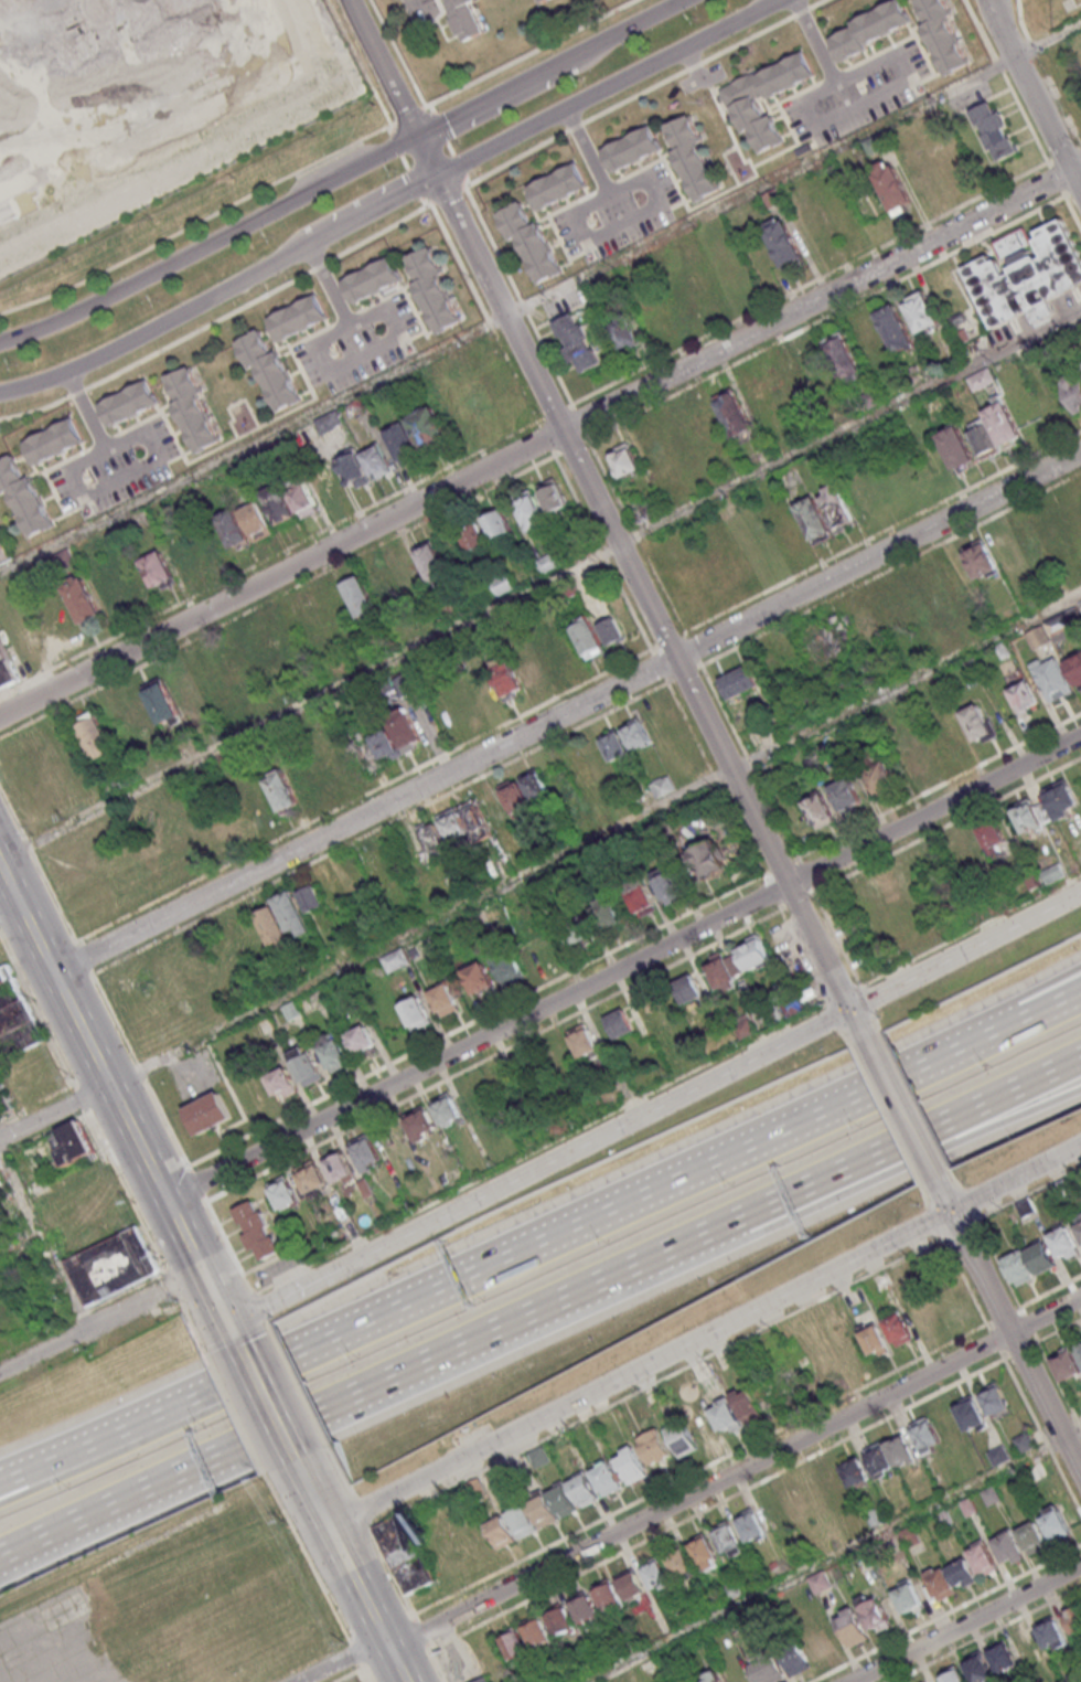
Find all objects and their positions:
building: (542, 0)
road: (416, 8)
building: (467, 18)
building: (870, 28)
building: (943, 34)
road: (816, 41)
road: (385, 67)
road: (552, 70)
building: (131, 79)
road: (1036, 91)
building: (764, 97)
road: (876, 97)
building: (995, 130)
building: (632, 148)
building: (693, 157)
road: (322, 163)
building: (558, 185)
building: (892, 187)
road: (395, 203)
road: (586, 237)
building: (531, 241)
building: (783, 241)
road: (211, 242)
building: (1027, 274)
building: (372, 279)
building: (432, 289)
road: (540, 297)
building: (921, 311)
building: (298, 317)
building: (896, 328)
building: (624, 332)
building: (577, 342)
building: (844, 358)
road: (329, 368)
building: (813, 370)
building: (271, 372)
building: (982, 379)
building: (1072, 390)
building: (129, 402)
building: (192, 408)
building: (735, 413)
building: (703, 419)
building: (329, 420)
building: (1003, 424)
building: (415, 435)
building: (982, 438)
building: (54, 440)
road: (540, 441)
building: (956, 448)
road: (156, 455)
building: (624, 459)
building: (376, 461)
building: (353, 468)
building: (553, 494)
building: (24, 497)
building: (302, 498)
building: (278, 502)
building: (836, 505)
building: (531, 512)
building: (643, 512)
building: (814, 520)
building: (256, 521)
building: (499, 524)
building: (233, 530)
building: (474, 537)
building: (981, 558)
building: (432, 562)
building: (158, 569)
road: (539, 584)
road: (643, 586)
building: (360, 597)
building: (82, 599)
building: (612, 631)
building: (588, 637)
building: (827, 642)
building: (264, 650)
building: (8, 666)
building: (1075, 668)
building: (516, 678)
building: (1052, 678)
building: (739, 681)
building: (1024, 695)
building: (161, 701)
road: (567, 713)
building: (978, 723)
building: (406, 731)
building: (94, 735)
building: (627, 739)
building: (385, 745)
building: (364, 752)
building: (913, 762)
building: (881, 776)
building: (662, 785)
building: (280, 789)
building: (524, 794)
building: (846, 795)
building: (1062, 799)
building: (820, 809)
building: (1030, 815)
building: (464, 822)
building: (993, 837)
road: (593, 838)
building: (430, 841)
building: (708, 858)
building: (668, 884)
building: (889, 886)
building: (641, 896)
building: (311, 897)
road: (8, 905)
building: (283, 920)
building: (577, 930)
building: (753, 952)
building: (395, 959)
building: (507, 966)
road: (622, 967)
building: (723, 972)
building: (480, 979)
building: (689, 989)
building: (445, 1000)
traffic signals: (854, 1009)
road: (995, 1011)
building: (417, 1012)
building: (15, 1015)
building: (621, 1023)
road: (998, 1029)
building: (362, 1039)
building: (585, 1042)
building: (333, 1051)
building: (307, 1065)
building: (282, 1083)
road: (704, 1084)
road: (113, 1096)
building: (3, 1100)
building: (447, 1108)
road: (902, 1108)
road: (53, 1113)
building: (208, 1113)
building: (421, 1122)
building: (72, 1143)
building: (366, 1152)
building: (340, 1168)
building: (312, 1178)
building: (283, 1192)
road: (784, 1192)
road: (944, 1193)
traffic signals: (952, 1210)
road: (789, 1217)
building: (1078, 1222)
building: (258, 1229)
road: (44, 1241)
road: (20, 1242)
building: (1064, 1243)
building: (1041, 1256)
road: (500, 1261)
building: (114, 1265)
building: (1018, 1268)
traffic signals: (201, 1273)
road: (277, 1300)
road: (84, 1311)
road: (100, 1322)
traffic signals: (227, 1326)
building: (899, 1328)
road: (705, 1334)
road: (234, 1335)
building: (875, 1341)
road: (1015, 1343)
building: (1078, 1346)
building: (1067, 1366)
building: (994, 1397)
road: (269, 1403)
building: (747, 1404)
building: (971, 1414)
building: (725, 1416)
building: (691, 1433)
building: (925, 1435)
road: (244, 1440)
building: (1025, 1443)
building: (654, 1446)
building: (889, 1454)
building: (998, 1455)
building: (631, 1463)
road: (41, 1465)
road: (736, 1472)
building: (845, 1477)
building: (607, 1478)
road: (42, 1479)
building: (584, 1488)
road: (314, 1492)
building: (553, 1505)
building: (774, 1512)
building: (847, 1519)
building: (522, 1521)
building: (1055, 1522)
building: (750, 1524)
building: (501, 1532)
building: (1032, 1537)
building: (728, 1539)
building: (1008, 1547)
building: (705, 1552)
road: (0, 1553)
road: (0, 1553)
building: (405, 1554)
road: (831, 1555)
building: (982, 1558)
building: (681, 1563)
building: (656, 1574)
building: (951, 1577)
building: (820, 1580)
building: (631, 1584)
building: (608, 1595)
building: (908, 1597)
road: (370, 1603)
building: (584, 1608)
building: (875, 1612)
building: (1073, 1618)
building: (560, 1620)
road: (967, 1624)
building: (850, 1626)
building: (537, 1632)
building: (1050, 1633)
building: (514, 1643)
building: (820, 1643)
building: (1004, 1656)
road: (343, 1660)
building: (796, 1660)
building: (767, 1668)
building: (977, 1668)
building: (952, 1674)
building: (711, 1678)
building: (483, 1679)
building: (723, 1681)

